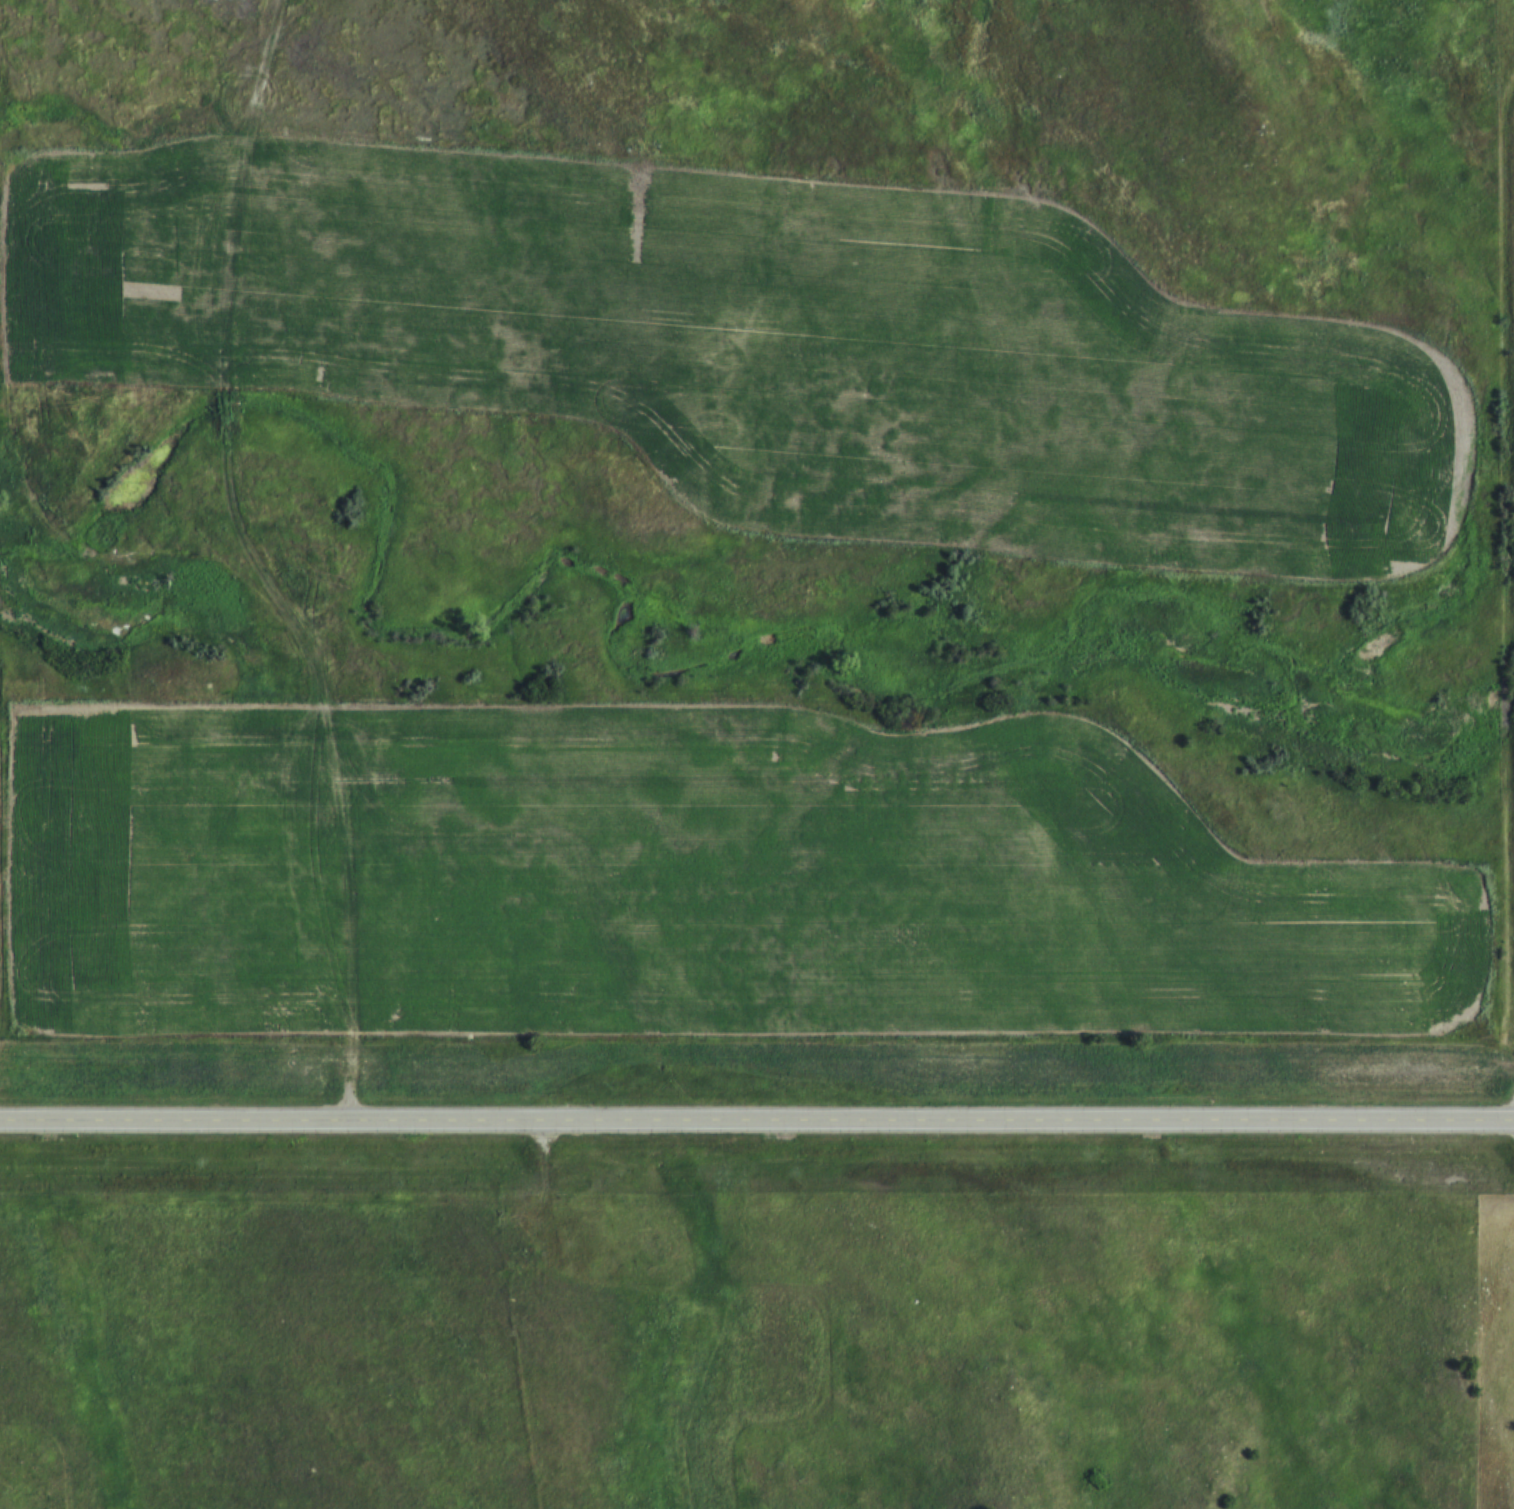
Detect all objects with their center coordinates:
road: (757, 1122)

